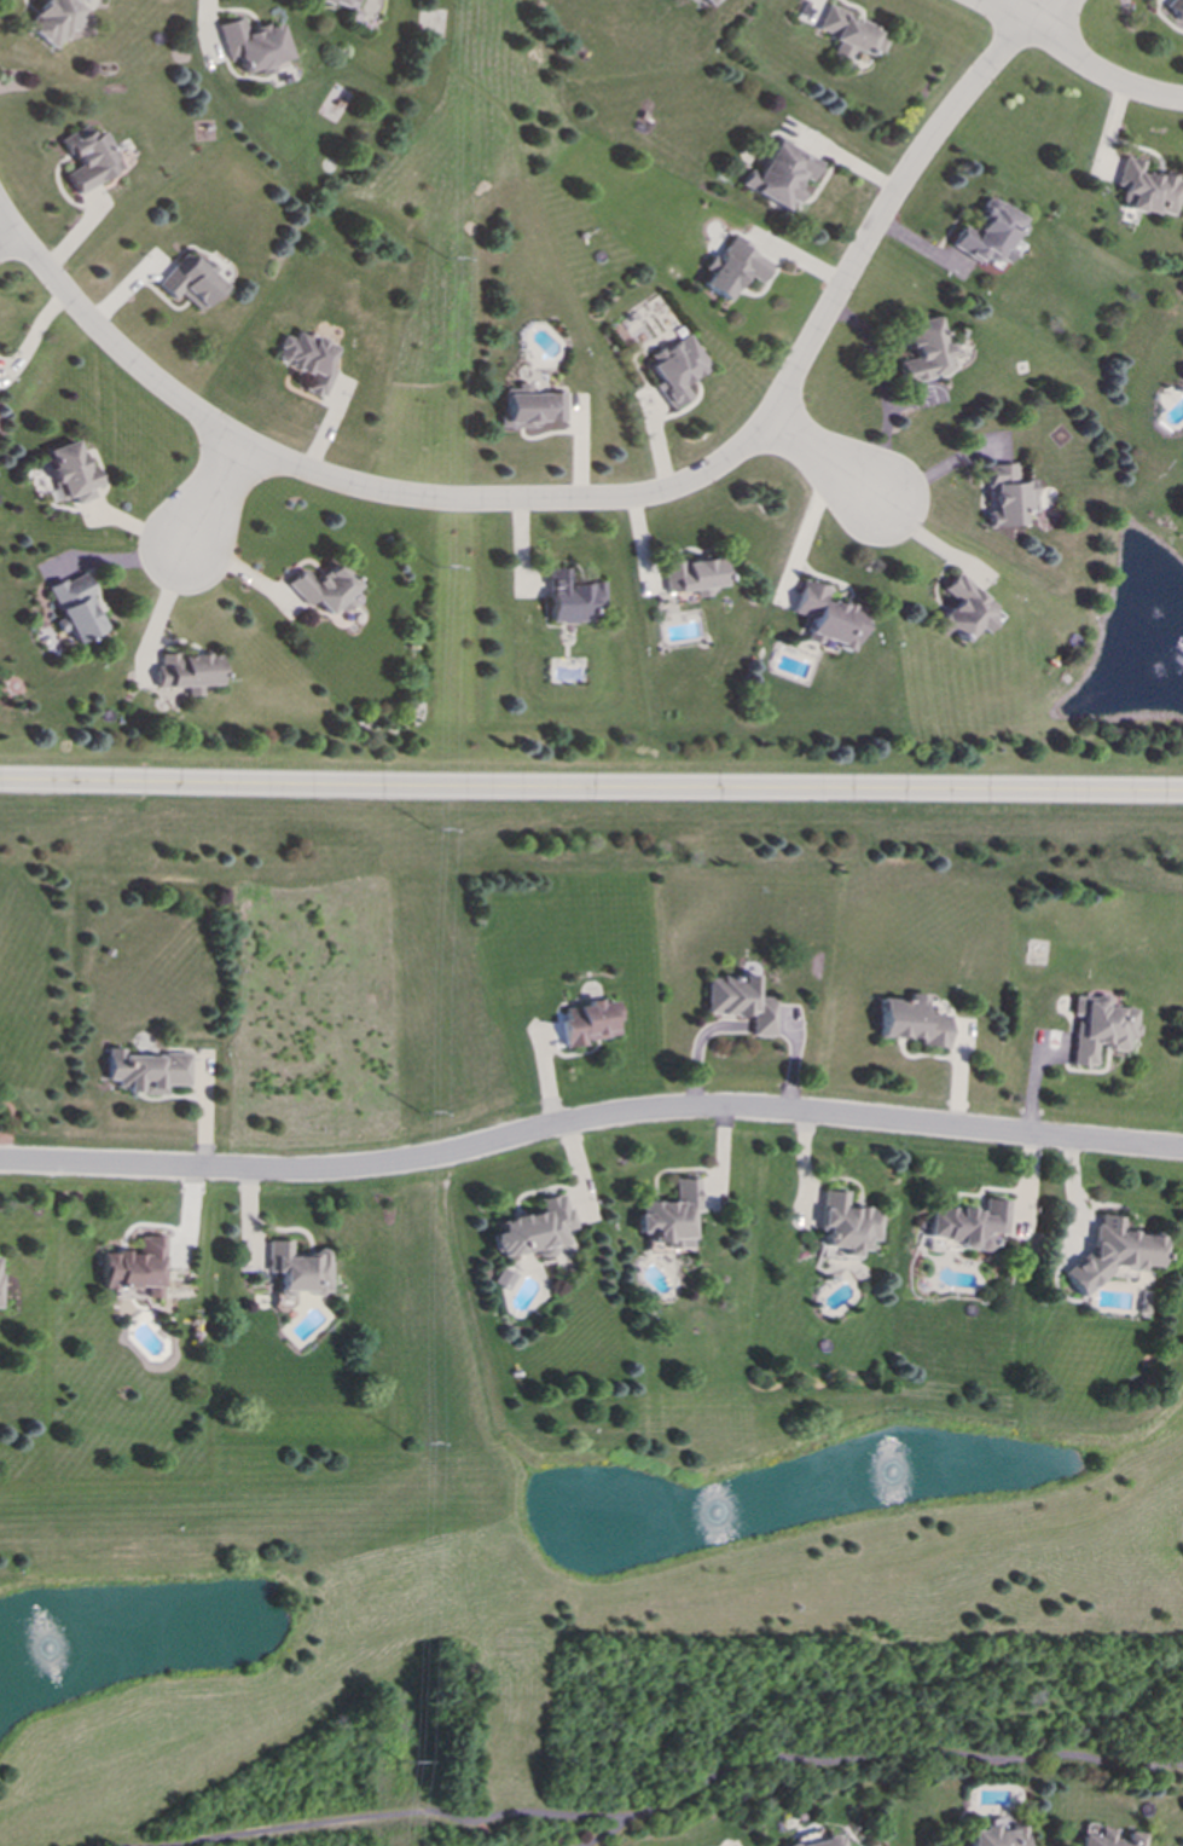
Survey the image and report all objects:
building: (337, 2)
building: (707, 2)
building: (1173, 8)
road: (1025, 15)
building: (53, 19)
building: (847, 34)
road: (1068, 58)
building: (89, 158)
building: (778, 174)
building: (1144, 190)
building: (986, 233)
road: (8, 244)
building: (730, 268)
building: (190, 283)
building: (924, 352)
building: (308, 360)
building: (675, 369)
road: (883, 390)
building: (529, 407)
road: (828, 463)
building: (70, 473)
building: (1005, 496)
road: (574, 498)
road: (219, 503)
building: (690, 577)
building: (324, 589)
building: (570, 597)
building: (75, 608)
building: (962, 609)
building: (825, 617)
building: (186, 672)
road: (591, 788)
road: (591, 788)
building: (738, 1002)
building: (910, 1022)
building: (587, 1023)
building: (1097, 1028)
building: (145, 1071)
road: (590, 1121)
building: (668, 1216)
building: (843, 1223)
building: (965, 1223)
building: (532, 1229)
building: (1107, 1255)
building: (133, 1268)
building: (295, 1269)
building: (501, 1278)
park: (558, 1435)
road: (875, 1759)
park: (753, 1770)
road: (389, 1815)
building: (993, 1835)
building: (1109, 1839)
building: (820, 1842)
road: (115, 1845)

